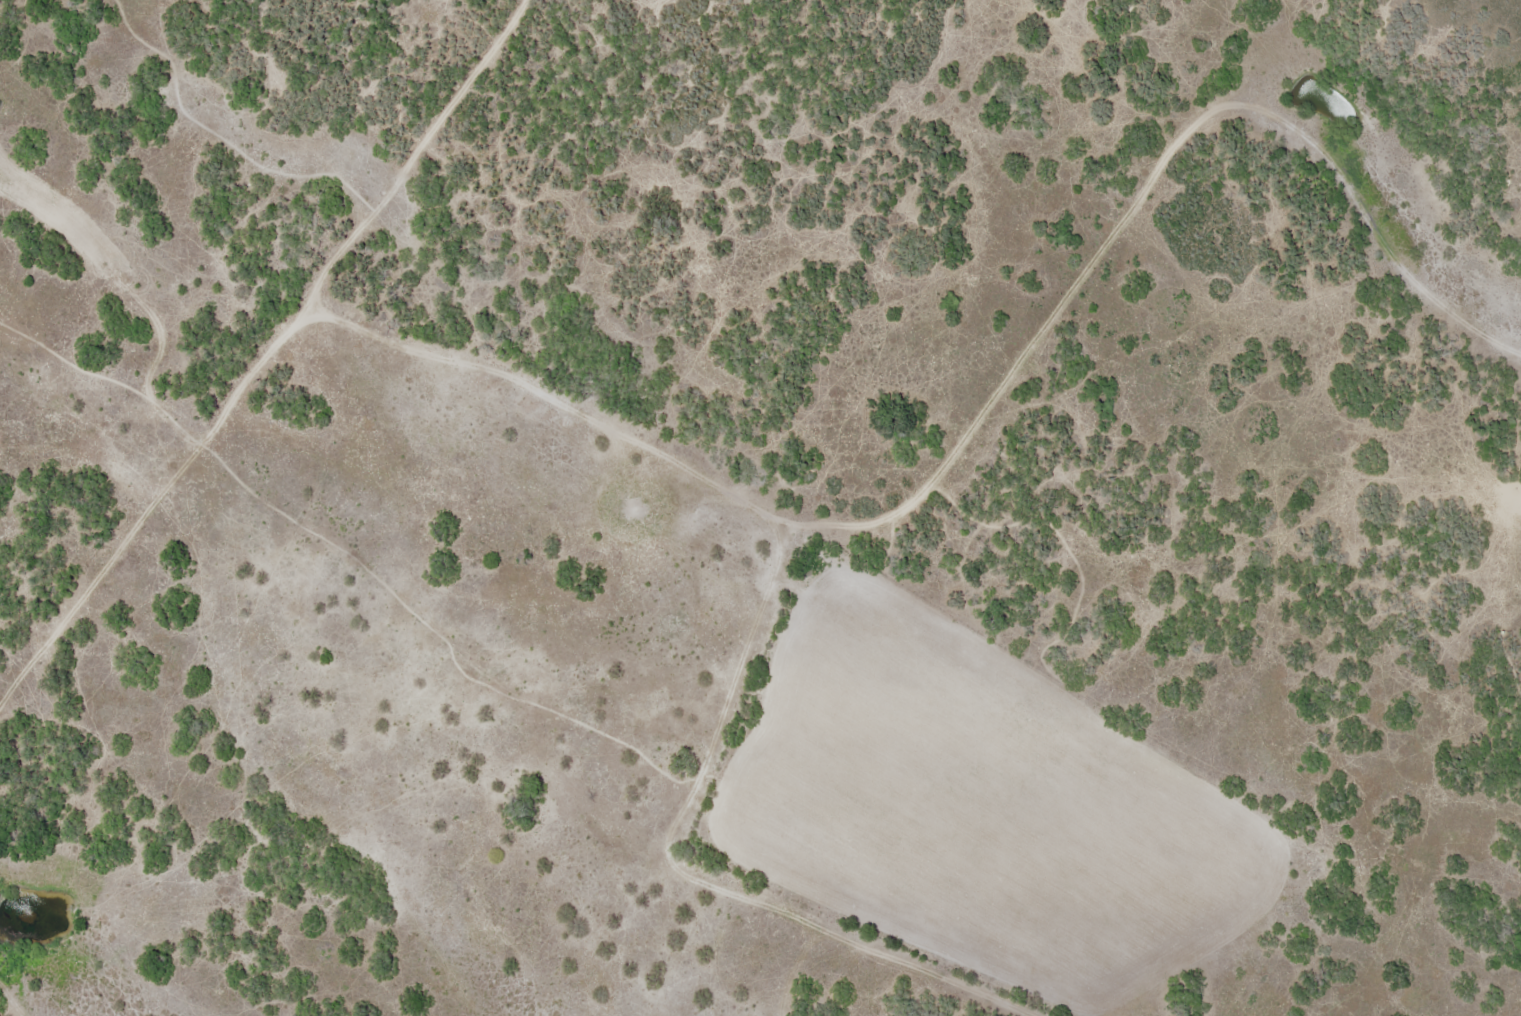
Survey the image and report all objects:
road: (520, 754)

